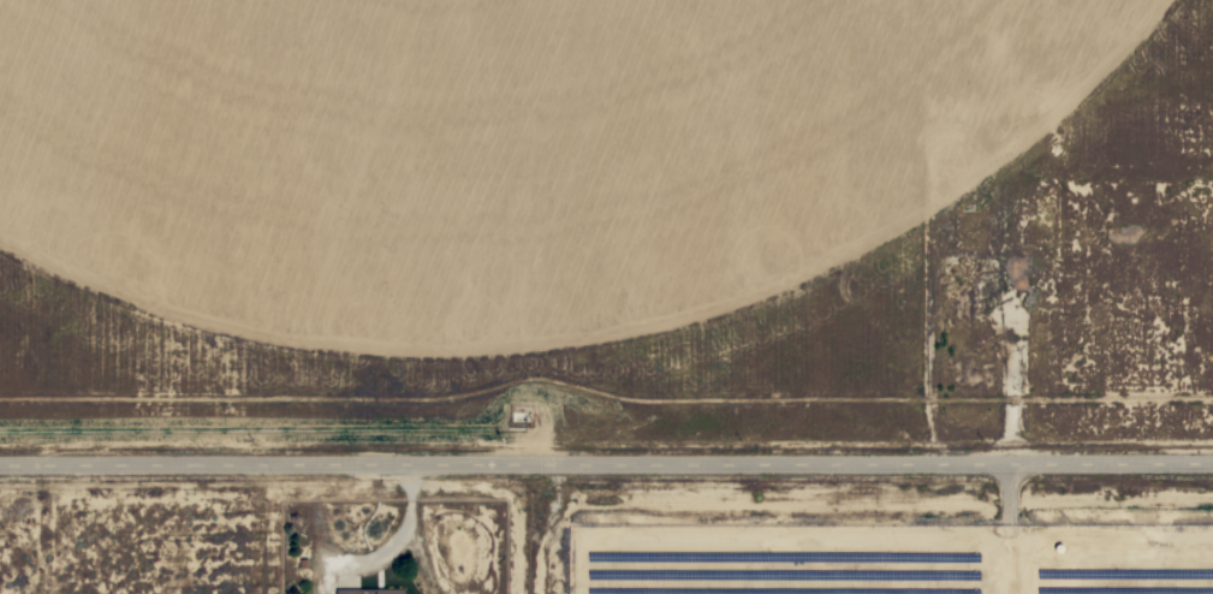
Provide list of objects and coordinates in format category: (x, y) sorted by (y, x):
crop: (505, 149)
road: (606, 470)
road: (536, 533)
solar farm: (887, 564)
building: (369, 590)

